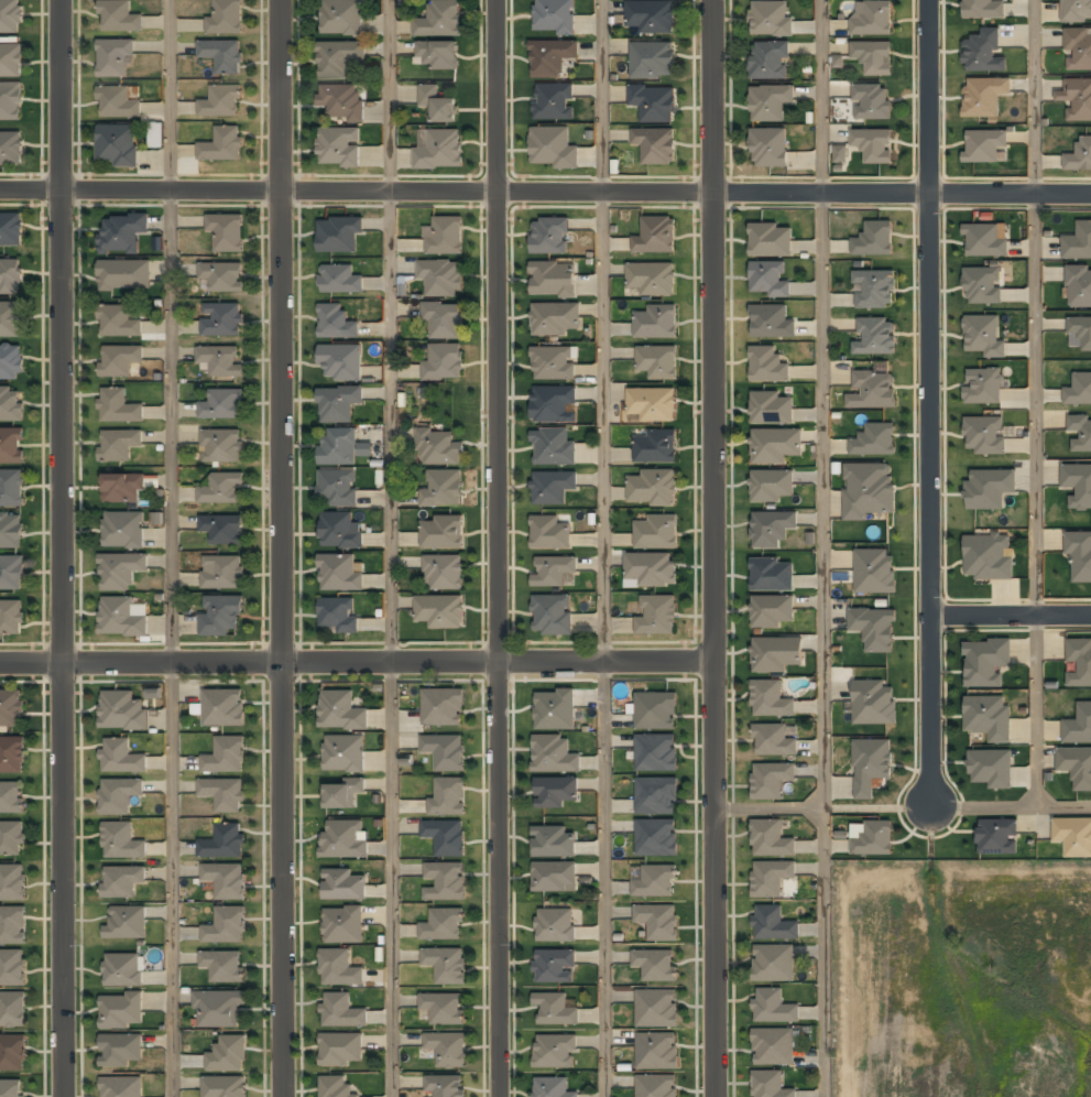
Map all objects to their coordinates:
building: (983, 10)
building: (1076, 10)
building: (10, 17)
building: (119, 17)
building: (559, 17)
building: (651, 17)
building: (227, 18)
building: (341, 18)
building: (770, 19)
building: (872, 19)
building: (440, 21)
building: (1078, 50)
building: (983, 53)
building: (222, 55)
building: (438, 55)
building: (558, 57)
building: (873, 57)
building: (339, 59)
building: (653, 59)
building: (11, 61)
building: (768, 62)
building: (112, 68)
building: (984, 97)
building: (1077, 99)
building: (221, 101)
building: (11, 102)
building: (342, 102)
building: (559, 102)
building: (653, 102)
building: (768, 102)
building: (871, 102)
building: (117, 104)
building: (437, 104)
building: (156, 135)
building: (222, 145)
building: (655, 145)
building: (873, 145)
building: (984, 145)
building: (117, 146)
building: (339, 146)
building: (439, 148)
building: (768, 148)
building: (11, 149)
building: (559, 149)
building: (840, 154)
building: (1079, 156)
road: (545, 188)
building: (11, 230)
building: (227, 232)
building: (121, 235)
building: (339, 235)
building: (552, 236)
building: (655, 236)
building: (445, 237)
building: (874, 239)
building: (771, 240)
building: (984, 241)
building: (1078, 242)
building: (123, 276)
building: (10, 278)
building: (221, 279)
building: (441, 279)
building: (553, 279)
building: (651, 279)
building: (340, 280)
building: (768, 280)
building: (983, 285)
building: (1079, 286)
building: (874, 287)
building: (559, 318)
building: (444, 319)
building: (11, 321)
building: (221, 321)
building: (119, 322)
building: (336, 323)
building: (655, 323)
building: (771, 323)
building: (1080, 330)
building: (984, 336)
building: (875, 337)
building: (119, 360)
building: (220, 361)
building: (11, 362)
building: (444, 362)
building: (556, 362)
building: (657, 362)
building: (341, 363)
building: (767, 366)
building: (983, 387)
building: (1079, 390)
building: (872, 391)
building: (560, 403)
building: (652, 403)
road: (934, 403)
building: (338, 404)
road: (1034, 404)
building: (12, 405)
building: (222, 405)
building: (118, 408)
building: (772, 410)
building: (1080, 432)
building: (984, 435)
building: (874, 441)
building: (119, 445)
building: (12, 446)
building: (656, 446)
building: (221, 447)
building: (339, 447)
building: (559, 447)
building: (774, 447)
building: (438, 448)
building: (1078, 485)
building: (558, 487)
building: (771, 487)
building: (123, 488)
building: (337, 488)
building: (652, 488)
building: (12, 489)
building: (443, 489)
building: (989, 489)
building: (221, 490)
building: (869, 490)
building: (771, 529)
building: (222, 530)
building: (12, 531)
building: (122, 531)
building: (340, 531)
building: (656, 532)
building: (444, 533)
building: (557, 534)
road: (58, 547)
road: (283, 547)
road: (390, 547)
road: (497, 547)
road: (602, 547)
road: (170, 548)
road: (713, 548)
road: (819, 548)
building: (1079, 555)
building: (988, 557)
building: (650, 568)
building: (558, 571)
building: (874, 571)
building: (120, 572)
building: (12, 573)
building: (222, 573)
building: (444, 573)
building: (339, 574)
building: (772, 576)
building: (440, 611)
road: (1012, 611)
building: (772, 612)
building: (338, 615)
building: (553, 616)
building: (656, 616)
building: (220, 617)
building: (11, 618)
building: (121, 618)
building: (874, 628)
building: (775, 655)
building: (1079, 662)
road: (357, 663)
building: (984, 663)
building: (768, 699)
building: (873, 703)
building: (443, 707)
building: (559, 708)
building: (223, 709)
building: (11, 710)
building: (122, 710)
building: (656, 710)
building: (341, 712)
building: (986, 718)
building: (1078, 726)
building: (773, 741)
building: (445, 751)
building: (656, 752)
building: (12, 754)
building: (343, 754)
building: (555, 754)
building: (225, 757)
building: (121, 758)
building: (870, 765)
building: (1077, 768)
building: (990, 769)
building: (770, 780)
building: (555, 792)
building: (342, 794)
building: (119, 795)
building: (656, 795)
building: (447, 797)
building: (11, 799)
road: (903, 806)
building: (228, 807)
building: (1073, 836)
building: (445, 837)
building: (656, 837)
building: (997, 837)
building: (11, 838)
building: (873, 838)
building: (771, 839)
building: (343, 840)
building: (122, 841)
building: (554, 841)
building: (223, 843)
building: (554, 876)
building: (771, 877)
building: (226, 880)
building: (122, 881)
building: (445, 881)
building: (655, 881)
building: (11, 883)
building: (343, 887)
building: (658, 921)
building: (135, 924)
building: (443, 924)
building: (772, 924)
building: (343, 925)
building: (555, 925)
building: (12, 926)
building: (210, 935)
building: (445, 964)
building: (773, 964)
building: (654, 965)
building: (222, 966)
building: (554, 966)
building: (12, 968)
building: (339, 968)
building: (123, 970)
building: (773, 1007)
building: (219, 1008)
building: (656, 1008)
building: (441, 1009)
building: (556, 1009)
building: (13, 1010)
building: (121, 1010)
building: (357, 1019)
building: (773, 1046)
building: (121, 1050)
building: (341, 1050)
building: (447, 1050)
building: (556, 1052)
building: (657, 1052)
building: (10, 1054)
building: (228, 1054)
building: (771, 1085)
building: (225, 1086)
building: (445, 1086)
building: (657, 1086)
building: (122, 1087)
building: (335, 1087)
building: (557, 1087)
building: (11, 1089)

